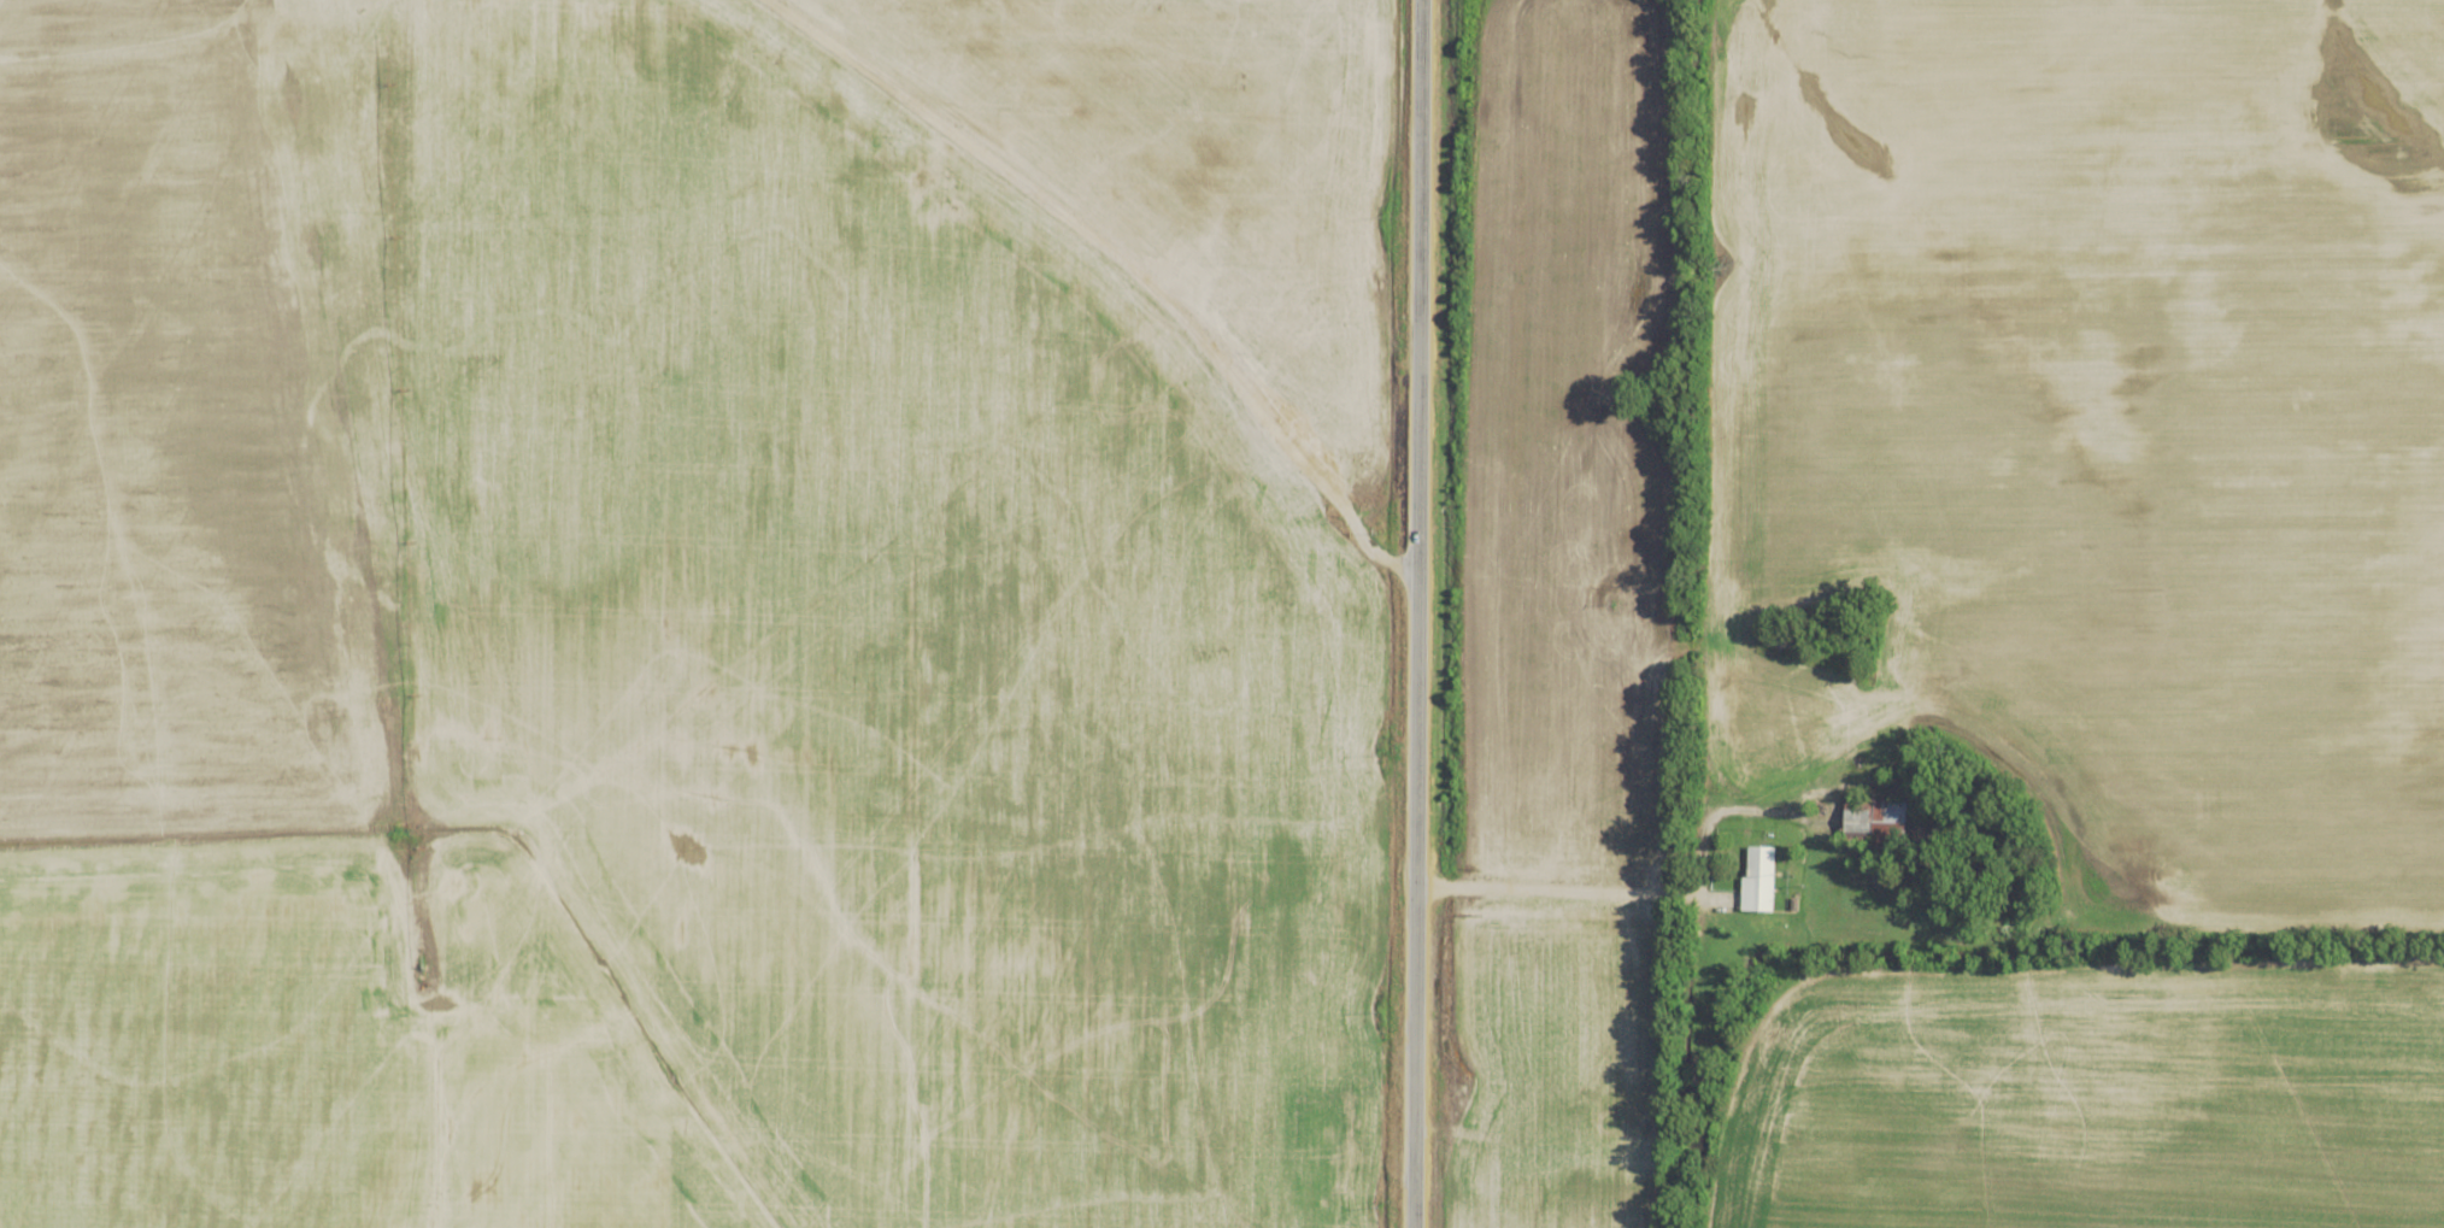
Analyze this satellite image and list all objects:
road: (1110, 259)
road: (1409, 613)
road: (1737, 617)
building: (1780, 640)
road: (1699, 753)
road: (501, 816)
building: (1878, 822)
building: (1761, 879)
road: (1551, 887)

